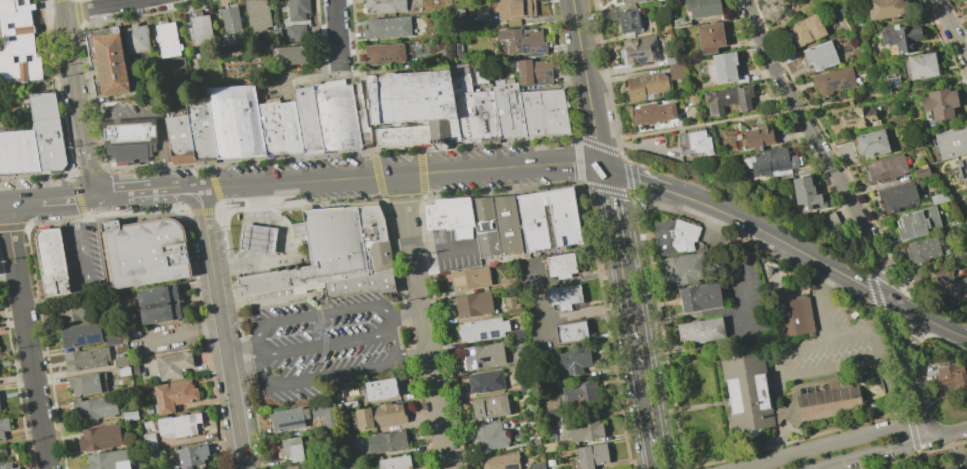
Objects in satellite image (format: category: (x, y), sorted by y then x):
building: (646, 0)
building: (658, 0)
building: (628, 1)
road: (102, 6)
building: (384, 6)
road: (62, 7)
building: (701, 8)
road: (747, 8)
building: (885, 8)
building: (297, 9)
building: (515, 10)
park: (789, 11)
building: (607, 14)
building: (258, 15)
building: (628, 21)
road: (781, 23)
building: (231, 26)
building: (387, 28)
road: (336, 30)
building: (804, 30)
road: (951, 30)
building: (200, 31)
building: (296, 33)
building: (710, 36)
building: (900, 37)
building: (136, 39)
building: (167, 40)
building: (523, 41)
building: (18, 43)
rooftop solar panel: (524, 48)
building: (459, 49)
rooftop solar panel: (530, 49)
rooftop solar panel: (654, 49)
building: (639, 51)
rooftop solar panel: (539, 52)
building: (386, 53)
rooftop solar panel: (632, 53)
rooftop solar panel: (640, 53)
building: (292, 55)
building: (819, 55)
rooftop solar panel: (641, 59)
building: (107, 62)
building: (921, 65)
road: (624, 68)
building: (724, 68)
building: (532, 70)
building: (674, 71)
rooftop solar panel: (546, 73)
road: (625, 77)
road: (309, 79)
rooftop solar panel: (549, 79)
building: (832, 80)
building: (891, 82)
road: (585, 85)
building: (644, 85)
road: (894, 92)
building: (691, 99)
building: (727, 99)
building: (938, 103)
road: (77, 105)
building: (42, 106)
building: (473, 106)
building: (411, 108)
building: (507, 110)
parking lot: (127, 112)
building: (652, 112)
building: (543, 113)
road: (365, 114)
building: (335, 115)
building: (360, 116)
building: (860, 117)
road: (115, 118)
building: (306, 119)
road: (719, 121)
building: (234, 122)
building: (289, 127)
building: (271, 128)
building: (200, 131)
building: (757, 137)
building: (178, 139)
road: (610, 139)
building: (128, 140)
building: (951, 142)
building: (694, 143)
building: (871, 143)
building: (48, 144)
road: (161, 151)
building: (17, 152)
flagpole: (262, 156)
road: (825, 158)
building: (770, 161)
road: (567, 162)
rooftop solar panel: (782, 163)
rooftop solar panel: (772, 164)
rooftop solar panel: (763, 166)
traffic signals: (605, 169)
building: (886, 169)
building: (962, 169)
building: (921, 171)
road: (407, 174)
road: (640, 181)
road: (242, 186)
road: (181, 191)
road: (159, 192)
road: (142, 193)
building: (805, 194)
road: (112, 195)
building: (899, 195)
traffic signals: (93, 196)
building: (938, 197)
road: (67, 198)
road: (23, 200)
road: (2, 201)
road: (260, 201)
building: (230, 205)
road: (634, 205)
road: (612, 207)
building: (449, 216)
road: (252, 219)
building: (548, 219)
road: (259, 221)
building: (829, 222)
building: (917, 222)
building: (964, 222)
building: (953, 224)
building: (495, 226)
building: (296, 228)
road: (281, 230)
building: (673, 235)
road: (243, 237)
building: (256, 238)
road: (256, 239)
road: (787, 244)
building: (922, 249)
road: (439, 250)
building: (141, 252)
road: (620, 255)
building: (331, 257)
road: (240, 258)
road: (254, 258)
parking lot: (84, 259)
road: (412, 261)
building: (51, 262)
road: (248, 264)
building: (561, 266)
building: (679, 268)
road: (86, 277)
building: (470, 278)
road: (570, 279)
building: (508, 283)
building: (964, 288)
building: (697, 297)
road: (741, 297)
building: (564, 298)
building: (158, 305)
building: (474, 305)
building: (511, 305)
road: (931, 305)
building: (73, 312)
road: (329, 314)
road: (404, 315)
road: (585, 315)
road: (687, 315)
building: (793, 316)
road: (541, 319)
road: (930, 321)
road: (221, 329)
building: (483, 330)
building: (700, 330)
building: (571, 333)
road: (180, 334)
road: (322, 334)
building: (518, 334)
road: (862, 334)
road: (25, 335)
building: (81, 335)
road: (392, 335)
rooftop solar panel: (480, 335)
rooftop solar panel: (492, 335)
parking lot: (162, 338)
rooftop solar panel: (77, 340)
rooftop solar panel: (91, 340)
building: (113, 340)
parking lot: (325, 343)
road: (325, 346)
road: (635, 350)
road: (411, 351)
building: (483, 356)
building: (86, 359)
road: (242, 359)
building: (574, 361)
building: (121, 362)
road: (434, 363)
building: (173, 365)
building: (135, 369)
road: (912, 370)
building: (124, 372)
road: (793, 375)
building: (951, 377)
building: (486, 381)
road: (303, 382)
building: (88, 384)
building: (525, 385)
building: (380, 389)
building: (580, 392)
building: (826, 394)
building: (173, 396)
building: (347, 406)
building: (96, 407)
building: (490, 407)
building: (149, 410)
building: (130, 415)
building: (379, 416)
building: (290, 420)
road: (439, 424)
building: (179, 425)
building: (3, 428)
building: (583, 428)
building: (491, 436)
building: (100, 437)
building: (536, 441)
building: (149, 442)
building: (386, 442)
road: (831, 444)
building: (549, 446)
road: (889, 448)
building: (291, 449)
building: (2, 452)
road: (652, 453)
building: (192, 456)
building: (351, 456)
building: (592, 456)
building: (109, 460)
building: (502, 461)
building: (395, 463)
building: (550, 463)
building: (538, 465)
building: (6, 466)
building: (299, 466)
rooftop solar panel: (511, 466)
building: (965, 466)
building: (952, 467)
building: (16, 468)

